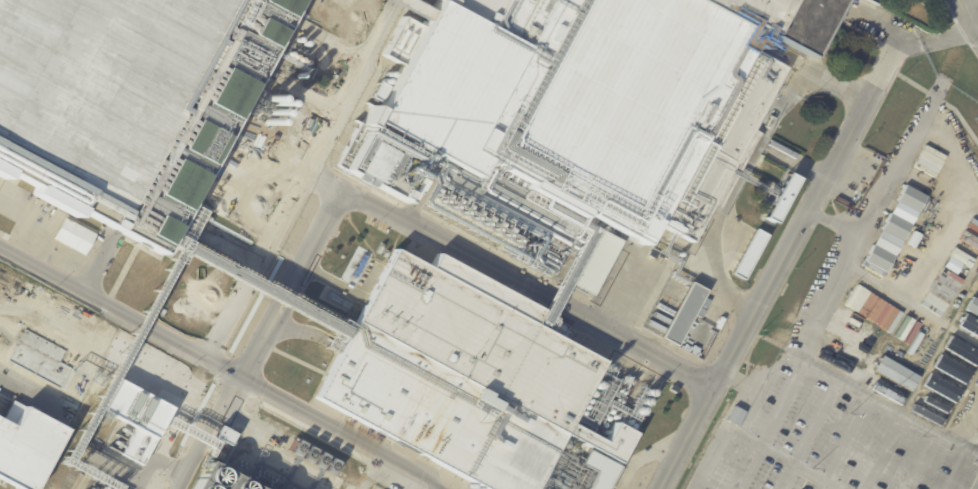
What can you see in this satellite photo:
road: (393, 1)
road: (963, 1)
road: (420, 10)
road: (968, 15)
road: (329, 40)
building: (602, 99)
building: (127, 100)
building: (939, 194)
building: (778, 198)
building: (911, 199)
road: (799, 221)
road: (834, 222)
road: (868, 222)
building: (892, 244)
building: (748, 254)
building: (601, 263)
building: (953, 272)
road: (288, 279)
road: (246, 282)
building: (937, 300)
road: (558, 306)
building: (858, 306)
building: (973, 307)
building: (690, 314)
building: (891, 321)
building: (722, 323)
building: (969, 327)
building: (962, 351)
road: (805, 357)
building: (953, 370)
building: (897, 374)
building: (467, 377)
road: (834, 389)
building: (943, 389)
building: (932, 409)
road: (780, 410)
building: (736, 417)
road: (324, 421)
road: (207, 430)
road: (916, 437)
road: (808, 439)
road: (752, 442)
building: (26, 445)
building: (137, 446)
road: (844, 447)
building: (219, 456)
road: (963, 468)
building: (104, 488)

